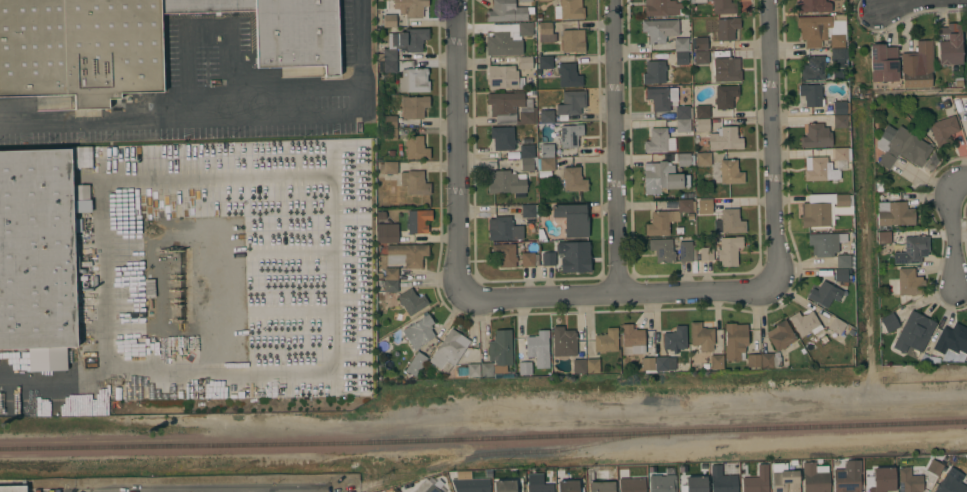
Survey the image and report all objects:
building: (524, 0)
building: (542, 0)
road: (887, 4)
building: (811, 5)
building: (206, 6)
building: (720, 6)
building: (660, 7)
building: (414, 8)
building: (568, 9)
building: (507, 11)
building: (390, 20)
road: (210, 26)
building: (727, 28)
building: (659, 29)
building: (821, 30)
building: (546, 32)
building: (297, 34)
building: (966, 37)
building: (507, 38)
building: (412, 39)
building: (572, 40)
building: (681, 43)
building: (700, 43)
building: (949, 43)
building: (80, 49)
building: (385, 52)
building: (837, 56)
building: (701, 57)
building: (683, 59)
building: (525, 62)
building: (545, 62)
building: (883, 62)
building: (918, 65)
building: (389, 66)
building: (814, 68)
building: (728, 69)
building: (654, 72)
building: (568, 75)
building: (504, 77)
building: (413, 80)
road: (938, 92)
building: (811, 94)
building: (725, 96)
building: (662, 97)
building: (571, 102)
building: (413, 106)
building: (839, 107)
building: (511, 108)
building: (683, 111)
building: (702, 111)
building: (549, 115)
road: (232, 118)
building: (389, 120)
building: (840, 121)
building: (702, 124)
building: (966, 128)
building: (943, 129)
building: (390, 132)
building: (566, 134)
building: (666, 134)
building: (816, 136)
building: (502, 137)
building: (725, 139)
road: (771, 143)
road: (456, 145)
road: (614, 145)
building: (901, 146)
building: (416, 147)
building: (547, 150)
building: (528, 151)
building: (841, 153)
building: (82, 158)
building: (703, 158)
building: (683, 159)
building: (528, 163)
building: (547, 164)
building: (387, 167)
building: (819, 169)
building: (728, 172)
building: (661, 175)
building: (573, 179)
road: (961, 180)
building: (414, 182)
building: (507, 182)
building: (685, 204)
building: (704, 204)
building: (823, 208)
building: (528, 210)
building: (896, 214)
building: (572, 219)
building: (418, 220)
building: (729, 221)
building: (659, 222)
building: (504, 229)
building: (387, 236)
road: (956, 241)
building: (825, 243)
building: (915, 248)
building: (36, 249)
building: (662, 249)
building: (729, 250)
building: (687, 251)
building: (572, 252)
building: (409, 253)
building: (706, 253)
building: (504, 254)
building: (548, 255)
building: (529, 259)
building: (843, 260)
building: (391, 273)
building: (840, 274)
road: (104, 277)
building: (909, 282)
building: (390, 285)
road: (615, 291)
building: (824, 293)
building: (412, 301)
building: (889, 322)
building: (805, 323)
road: (339, 326)
building: (835, 326)
building: (419, 331)
building: (914, 332)
building: (700, 334)
building: (781, 336)
building: (675, 338)
building: (606, 340)
building: (735, 340)
building: (563, 341)
building: (950, 344)
building: (538, 348)
building: (644, 349)
building: (447, 350)
building: (498, 353)
building: (753, 360)
building: (769, 360)
building: (716, 361)
building: (416, 363)
building: (592, 365)
building: (579, 366)
building: (525, 367)
building: (473, 369)
railway: (483, 439)
railway: (456, 460)
building: (934, 467)
building: (612, 476)
building: (848, 477)
building: (784, 478)
building: (814, 478)
building: (883, 479)
building: (910, 479)
building: (722, 480)
building: (756, 481)
building: (475, 482)
building: (631, 482)
building: (951, 482)
building: (662, 483)
building: (694, 484)
building: (537, 485)
building: (425, 486)
building: (504, 486)
building: (568, 486)
building: (13, 488)
road: (200, 488)
railway: (356, 489)
road: (318, 490)

